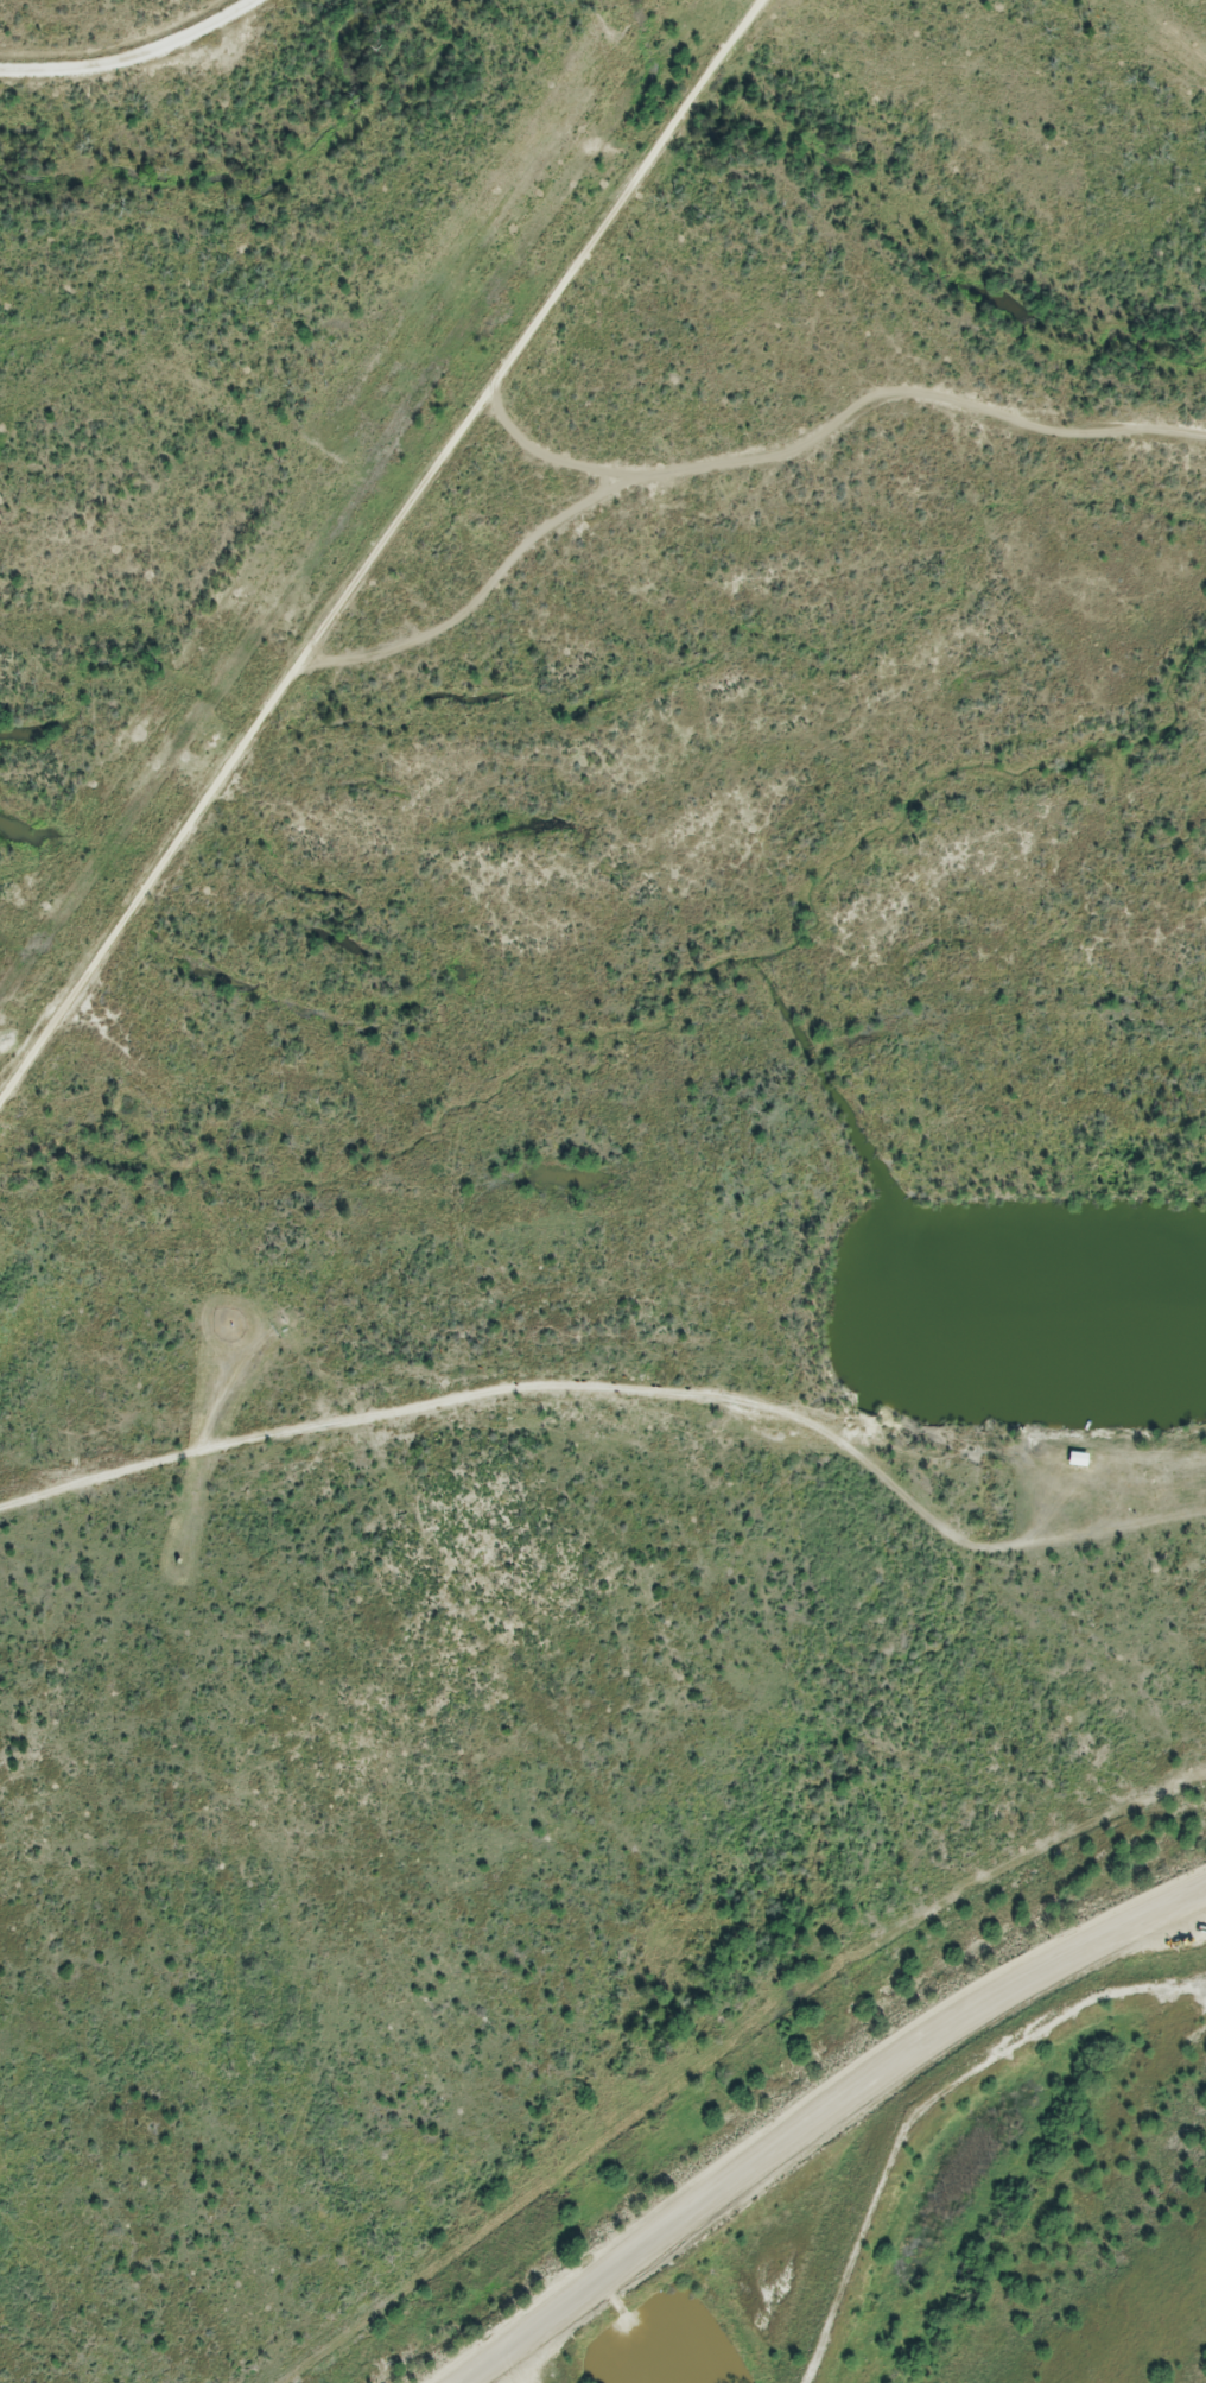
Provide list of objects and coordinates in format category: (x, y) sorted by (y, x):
road: (123, 49)
road: (379, 545)
road: (429, 1398)
road: (813, 2112)
quarry: (893, 2161)

